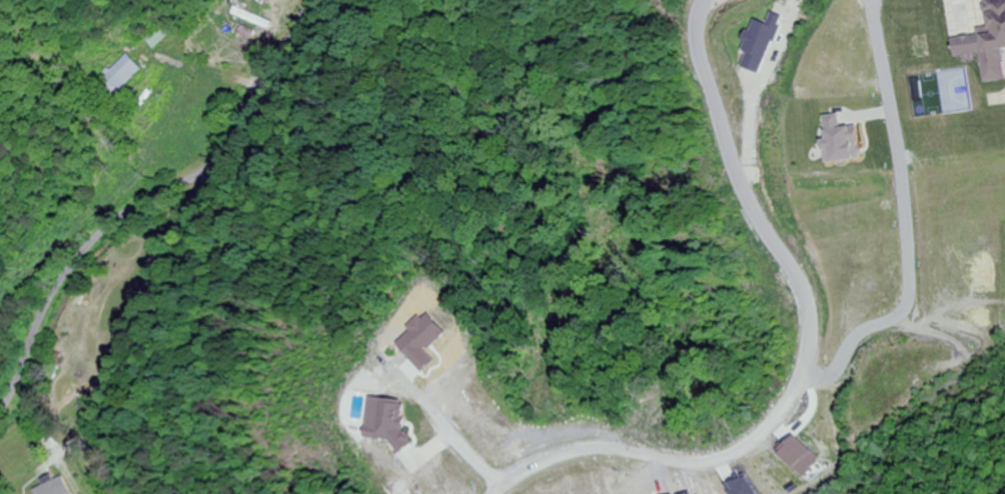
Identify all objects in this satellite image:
building: (250, 15)
building: (156, 35)
building: (986, 43)
building: (120, 75)
road: (144, 195)
road: (800, 298)
building: (98, 480)

